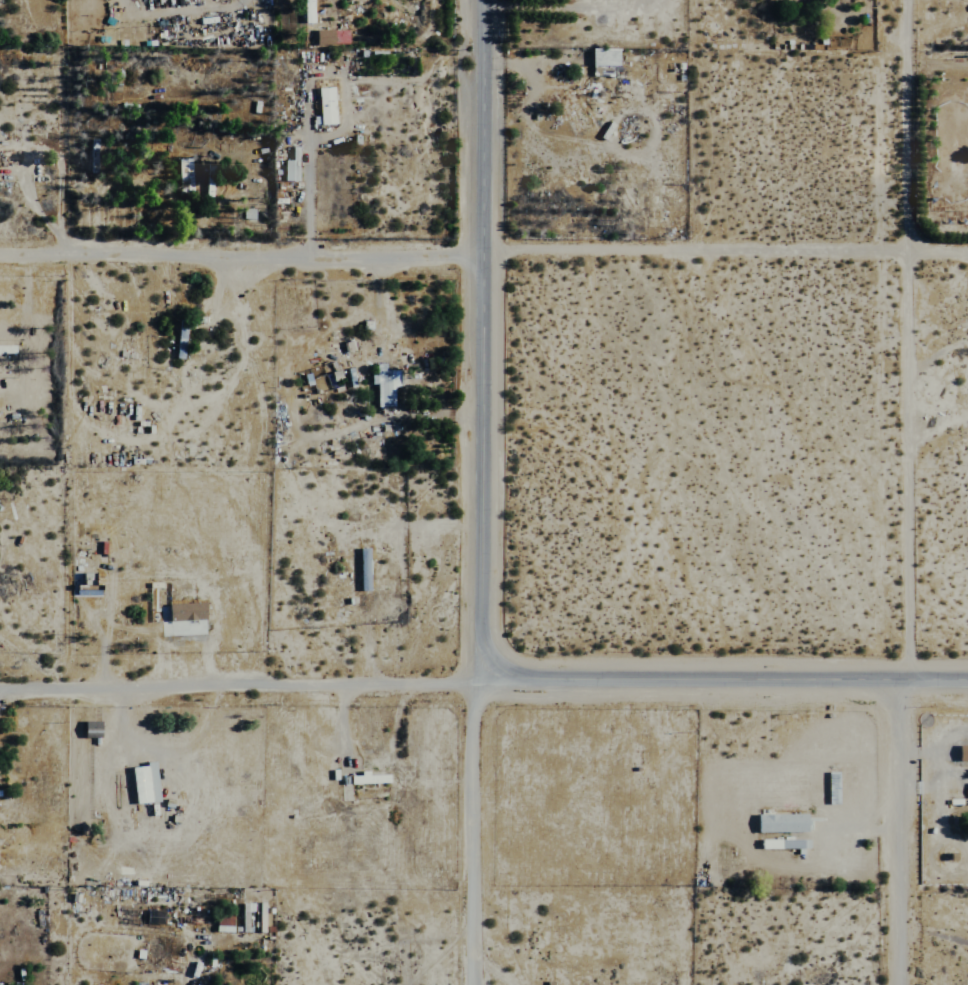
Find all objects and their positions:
road: (932, 28)
road: (307, 196)
road: (37, 211)
road: (241, 259)
road: (725, 261)
road: (482, 339)
road: (898, 340)
road: (240, 680)
road: (723, 680)
road: (481, 832)
road: (898, 833)

